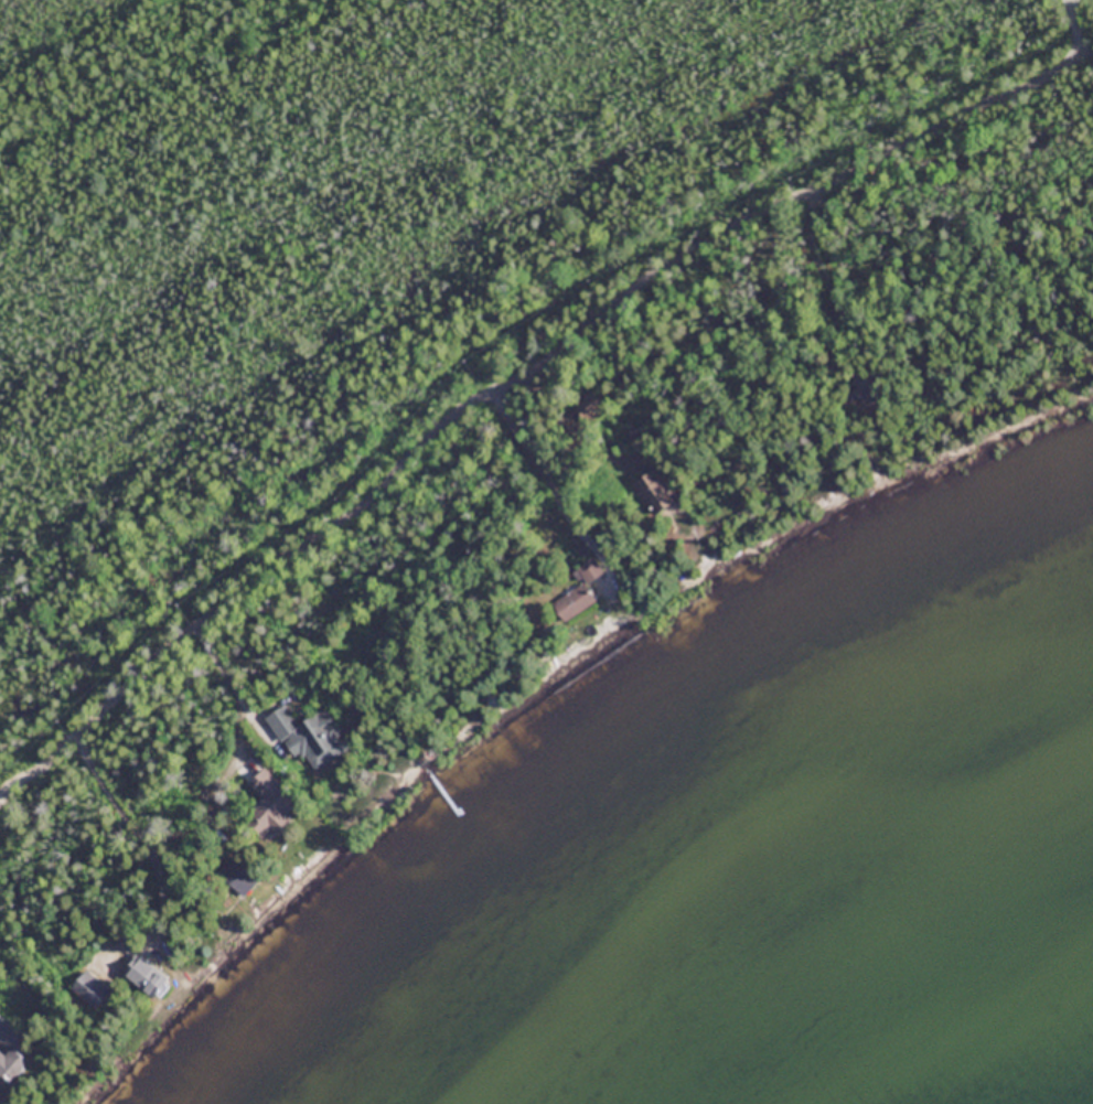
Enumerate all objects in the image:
road: (1075, 22)
road: (1086, 56)
road: (513, 384)
building: (656, 490)
building: (578, 592)
building: (310, 736)
building: (272, 814)
building: (147, 978)
building: (89, 988)
building: (8, 1055)

